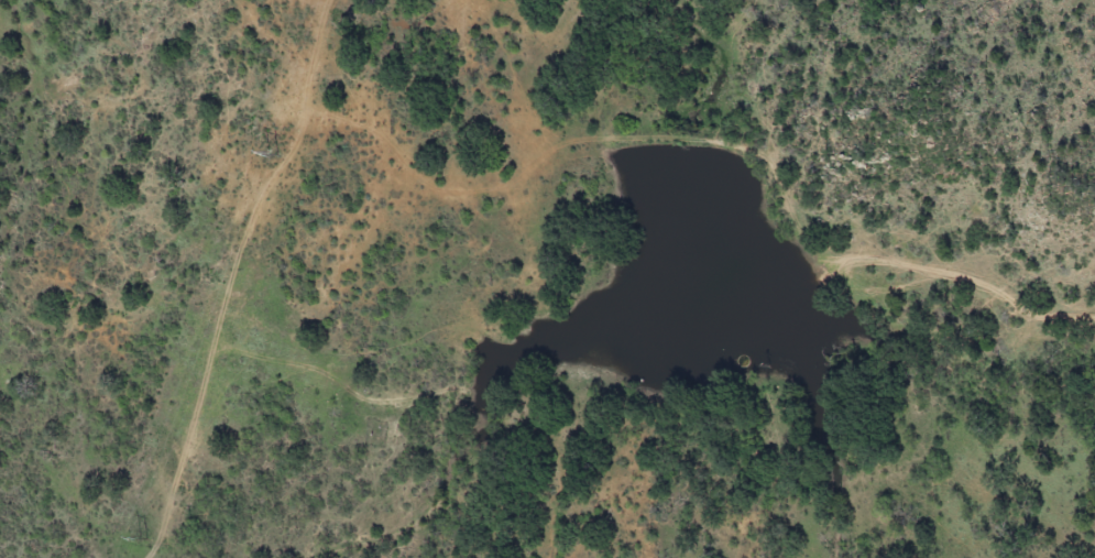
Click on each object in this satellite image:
power tower: (273, 152)
road: (968, 285)
power tower: (142, 537)

